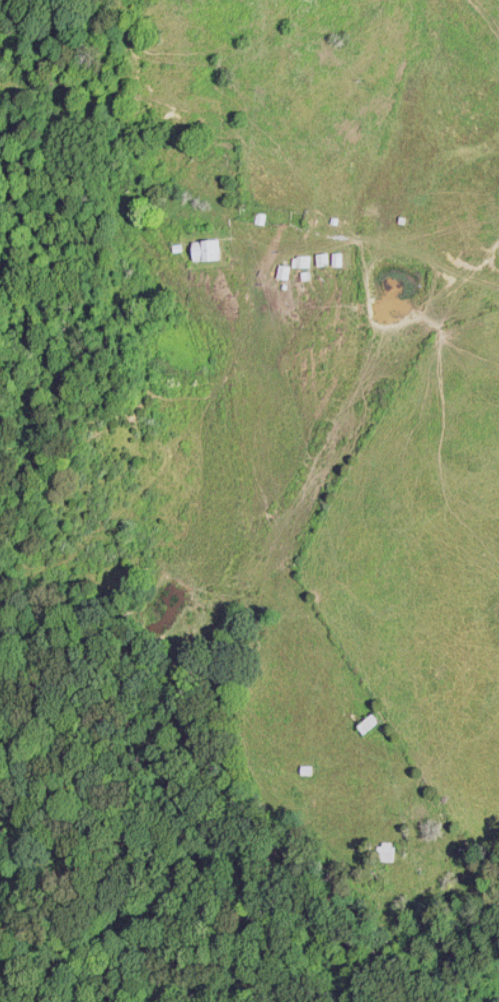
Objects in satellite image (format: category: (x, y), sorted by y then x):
building: (204, 252)
building: (299, 263)
building: (365, 723)
building: (302, 769)
building: (379, 849)

